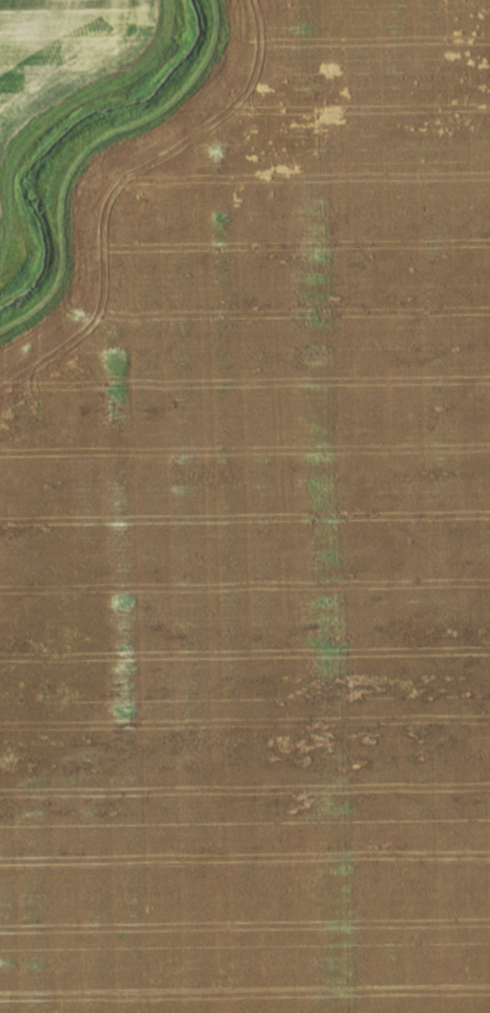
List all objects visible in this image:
crop: (55, 45)
crop: (259, 541)

